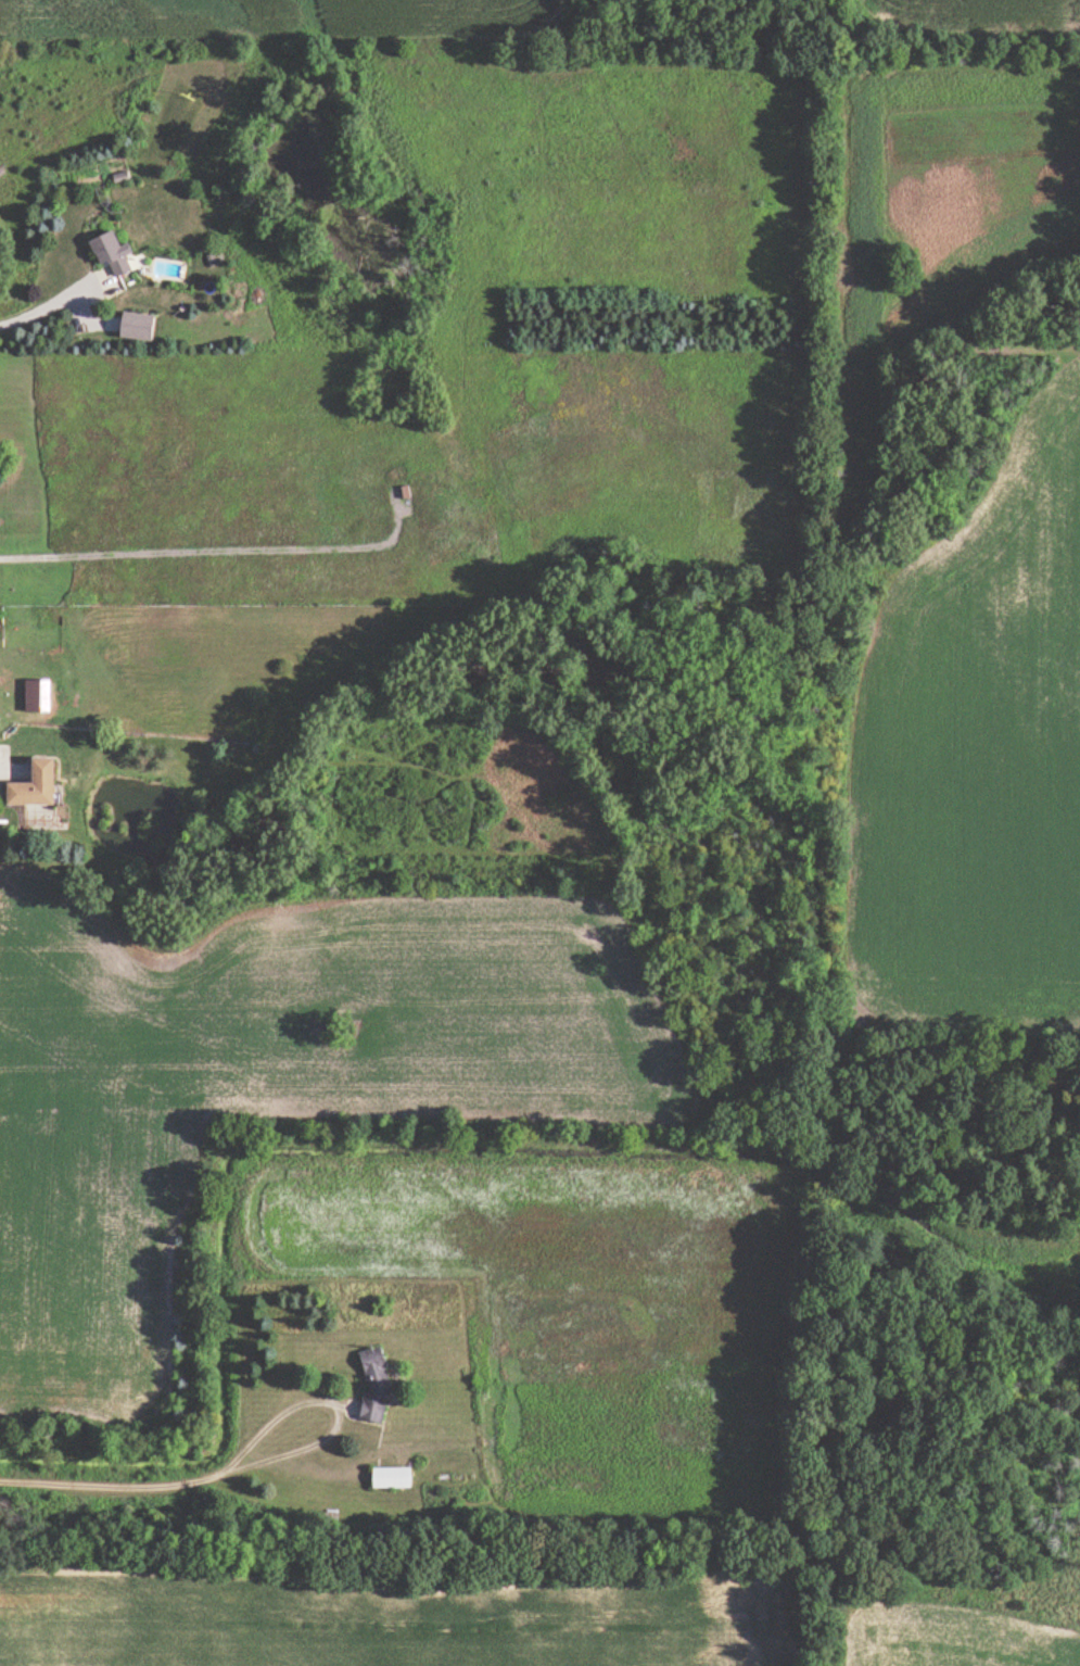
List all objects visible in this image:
building: (116, 253)
road: (49, 303)
road: (218, 545)
building: (39, 695)
road: (3, 769)
building: (42, 784)
building: (377, 1384)
building: (394, 1476)
road: (164, 1484)

